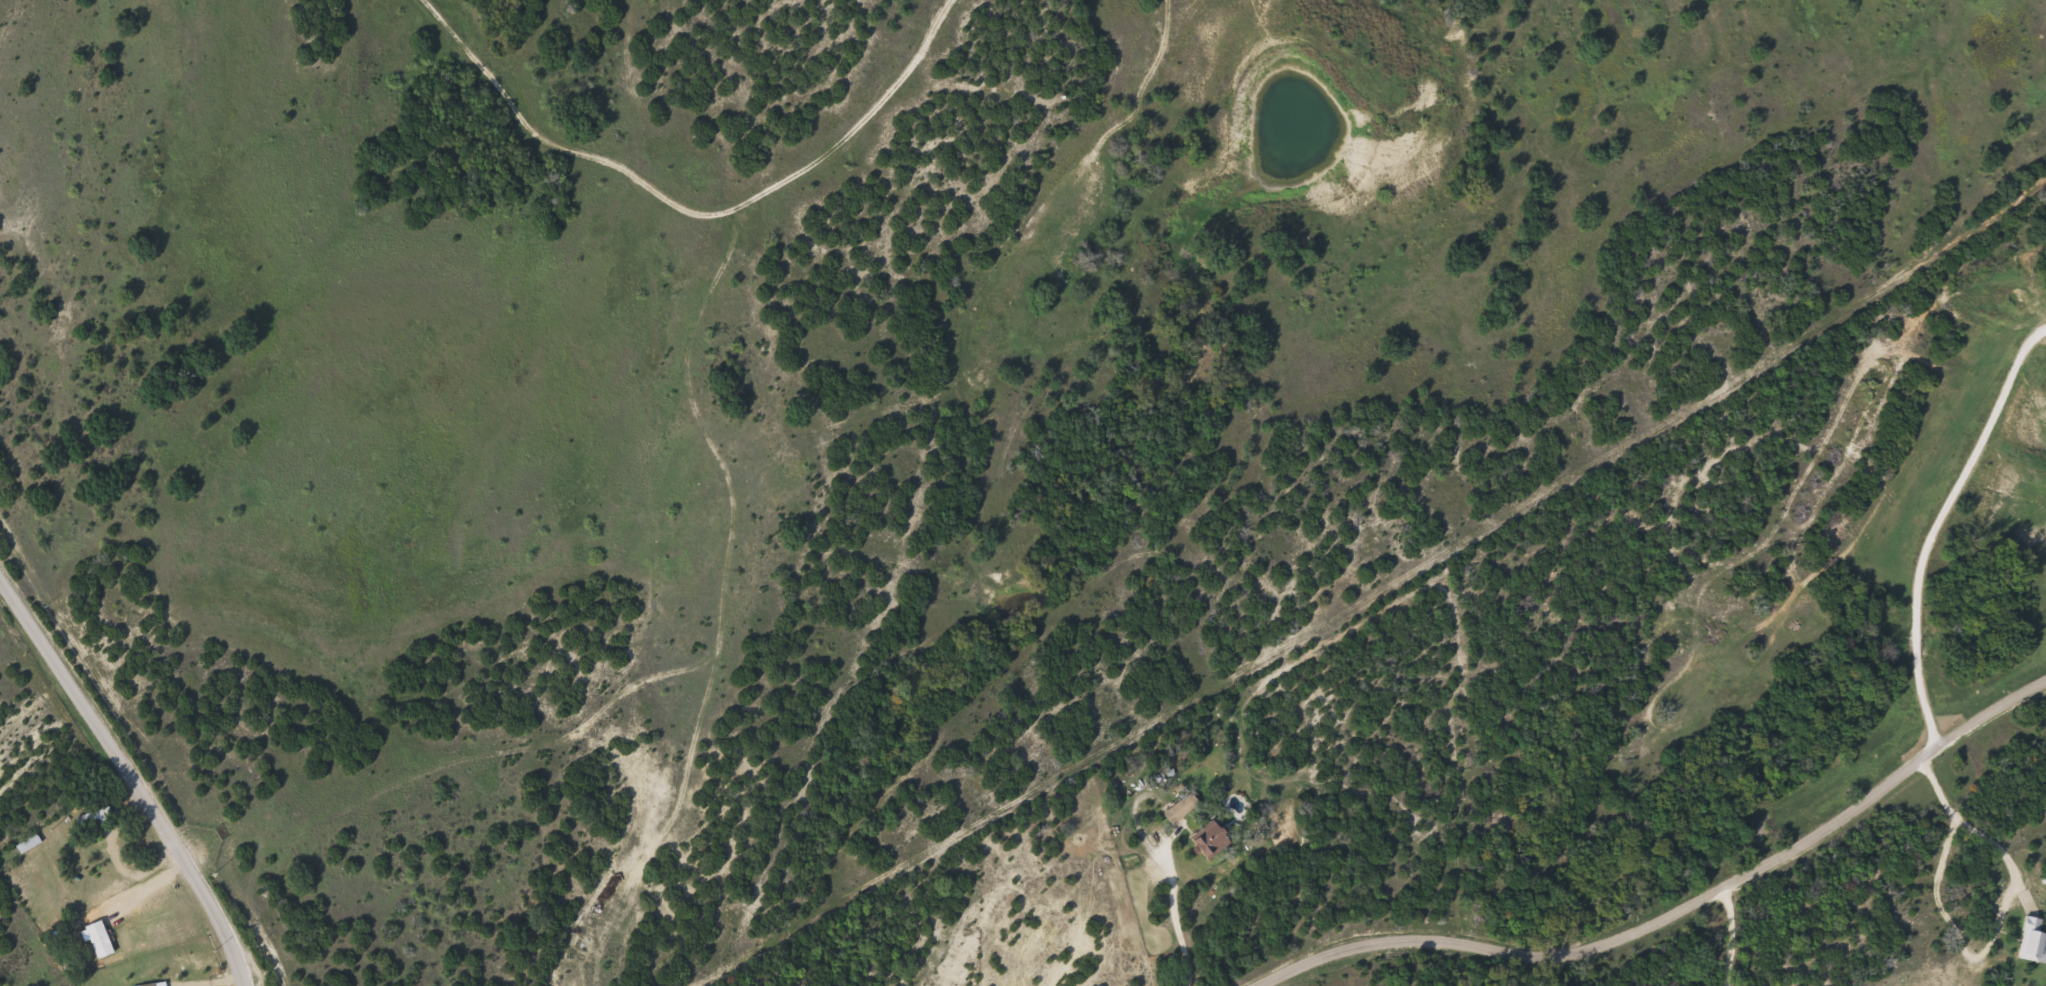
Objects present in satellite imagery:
road: (1536, 438)
road: (1930, 522)
road: (131, 777)
building: (1178, 813)
building: (1211, 840)
building: (29, 844)
road: (1679, 914)
road: (1174, 919)
building: (2033, 939)
road: (1655, 961)
road: (1329, 974)
building: (150, 985)

